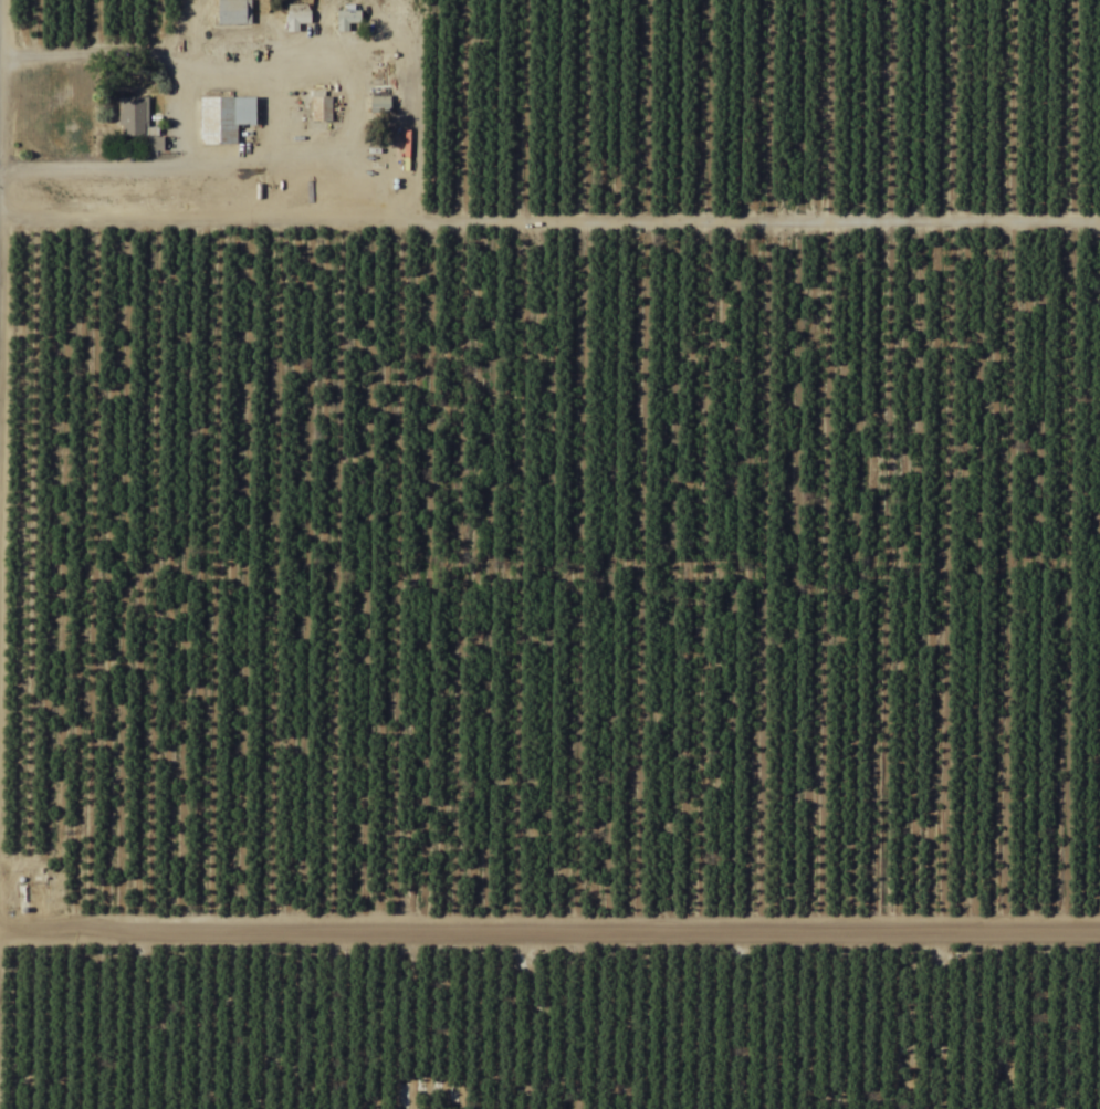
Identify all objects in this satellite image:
building: (231, 12)
building: (345, 19)
building: (295, 20)
road: (164, 46)
building: (373, 56)
building: (378, 108)
building: (319, 109)
building: (223, 118)
crop: (549, 554)
road: (584, 594)
road: (549, 920)

